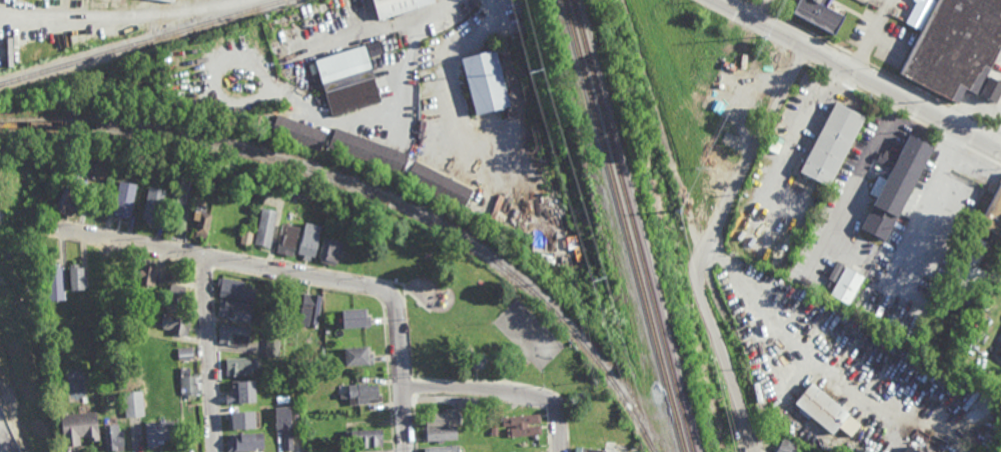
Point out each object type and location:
building: (399, 6)
building: (819, 15)
road: (132, 19)
road: (383, 29)
railway: (142, 43)
building: (952, 43)
building: (375, 47)
building: (527, 48)
road: (812, 52)
road: (800, 62)
road: (871, 65)
power tower: (540, 71)
road: (859, 73)
building: (348, 78)
building: (486, 79)
building: (991, 87)
park: (704, 94)
road: (872, 100)
road: (972, 107)
road: (660, 120)
building: (297, 131)
building: (729, 139)
road: (952, 140)
road: (999, 142)
building: (831, 143)
building: (368, 150)
building: (769, 150)
road: (983, 156)
road: (856, 179)
building: (439, 184)
building: (895, 184)
building: (877, 186)
building: (180, 190)
railway: (377, 196)
building: (123, 197)
building: (70, 199)
building: (152, 203)
building: (993, 213)
building: (201, 219)
building: (224, 223)
building: (337, 224)
railway: (623, 226)
railway: (631, 226)
building: (265, 227)
building: (246, 236)
building: (287, 240)
building: (309, 240)
road: (707, 243)
road: (699, 248)
road: (119, 250)
building: (333, 250)
building: (992, 254)
road: (192, 255)
road: (213, 258)
road: (268, 259)
road: (227, 261)
building: (972, 261)
road: (203, 267)
building: (145, 273)
building: (79, 276)
building: (57, 281)
road: (398, 284)
building: (846, 284)
building: (234, 289)
power tower: (578, 292)
building: (175, 296)
road: (371, 296)
road: (453, 302)
building: (235, 309)
building: (308, 310)
building: (274, 318)
building: (355, 318)
park: (475, 321)
building: (139, 322)
building: (175, 323)
building: (361, 331)
building: (233, 335)
building: (329, 338)
building: (272, 347)
building: (185, 353)
road: (207, 354)
building: (357, 356)
road: (201, 357)
road: (215, 359)
building: (478, 360)
building: (240, 366)
building: (314, 374)
road: (400, 381)
building: (189, 383)
road: (513, 385)
road: (411, 389)
road: (502, 391)
building: (241, 392)
building: (363, 394)
road: (545, 400)
building: (469, 403)
building: (133, 404)
building: (821, 408)
building: (486, 413)
building: (441, 417)
building: (243, 420)
road: (414, 425)
building: (522, 425)
building: (284, 426)
building: (80, 428)
road: (549, 431)
building: (161, 432)
building: (440, 433)
building: (112, 437)
building: (324, 437)
building: (363, 438)
building: (244, 442)
building: (610, 443)
building: (936, 445)
building: (526, 446)
building: (786, 446)
road: (404, 449)
building: (442, 449)
building: (588, 449)
road: (375, 451)
road: (394, 451)
building: (636, 451)

